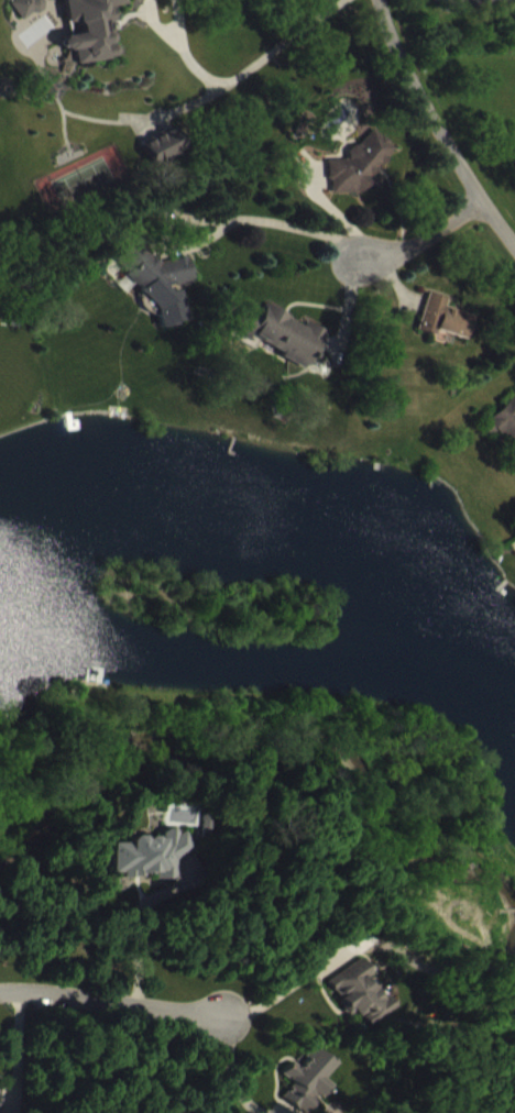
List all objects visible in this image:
building: (32, 19)
building: (95, 36)
road: (243, 91)
road: (436, 129)
building: (166, 161)
building: (362, 178)
road: (286, 224)
road: (421, 229)
building: (162, 296)
building: (448, 332)
building: (283, 348)
building: (504, 436)
building: (160, 870)
road: (136, 924)
road: (284, 989)
road: (114, 1000)
building: (362, 1006)
building: (313, 1090)
building: (0, 1106)

